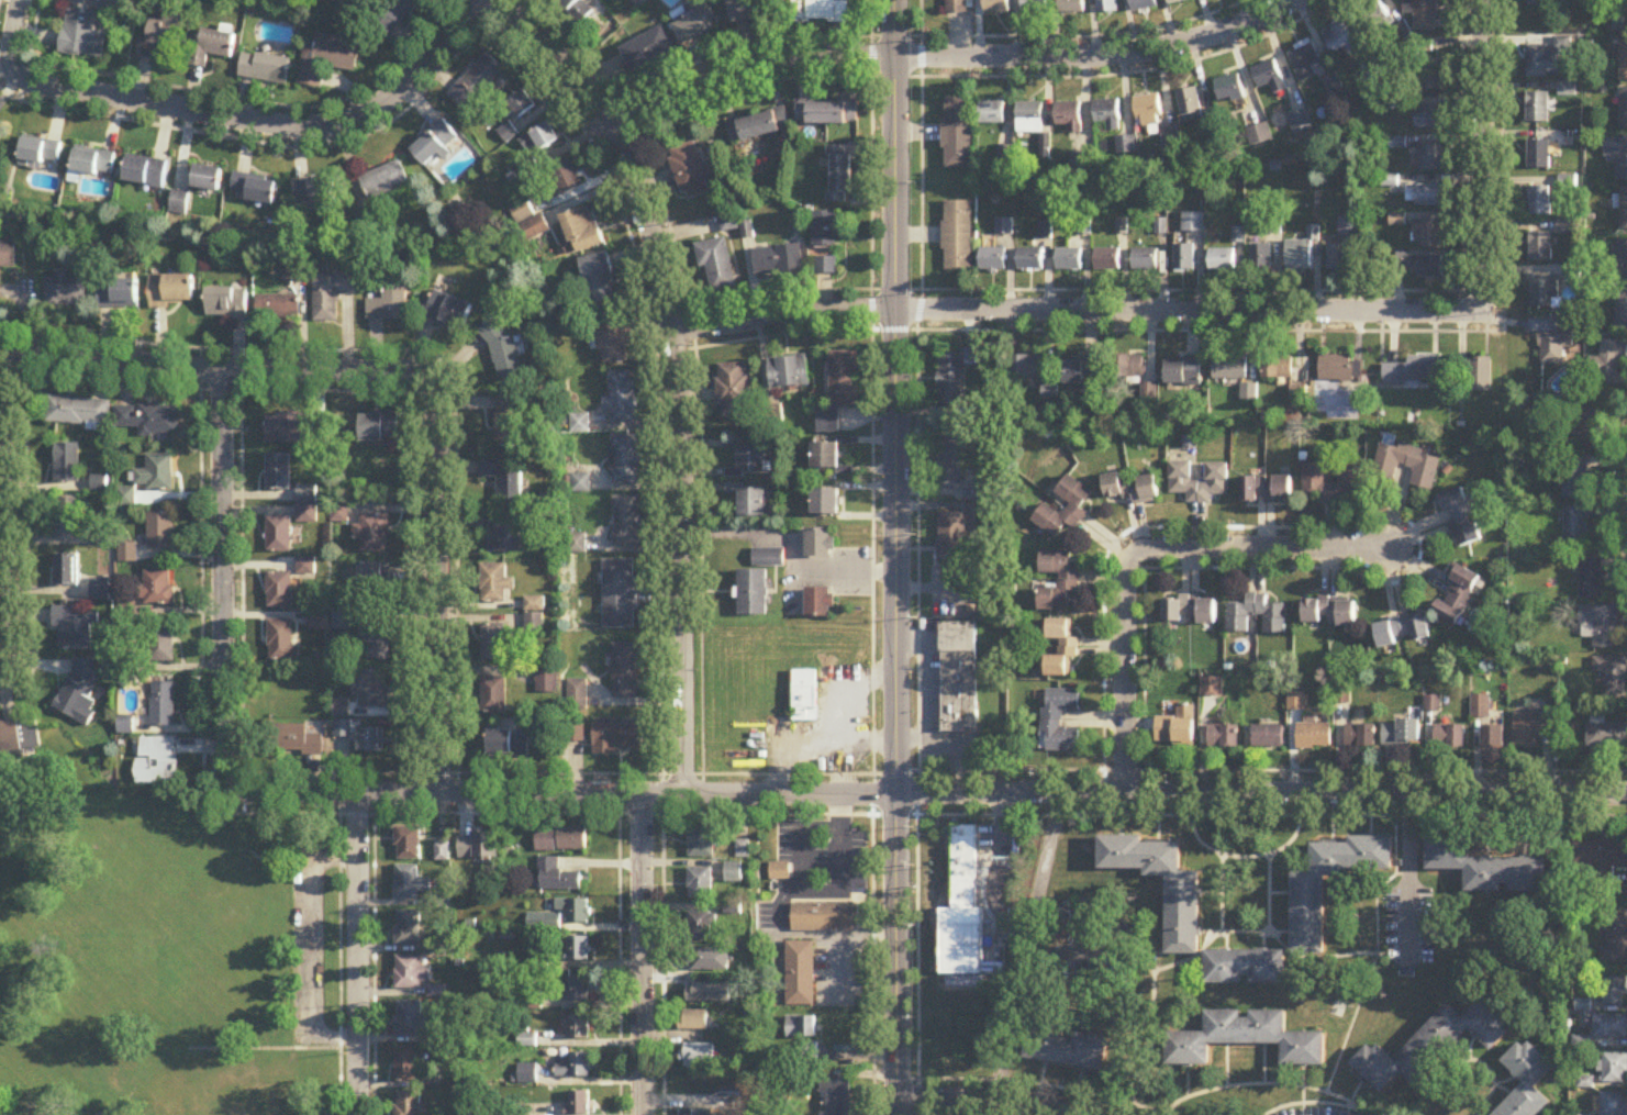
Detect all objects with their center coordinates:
building: (107, 1)
building: (1177, 1)
building: (1144, 4)
building: (1538, 4)
building: (955, 5)
building: (998, 7)
building: (1035, 7)
building: (1071, 7)
building: (1106, 7)
building: (577, 9)
building: (748, 10)
building: (818, 10)
building: (392, 15)
building: (1426, 15)
building: (1380, 22)
building: (697, 23)
road: (1079, 30)
road: (15, 34)
building: (82, 35)
building: (165, 35)
building: (1341, 42)
building: (212, 48)
building: (648, 51)
building: (1425, 51)
road: (946, 56)
building: (328, 60)
building: (1623, 60)
building: (1304, 62)
building: (1542, 63)
road: (1130, 66)
building: (265, 69)
building: (1269, 78)
building: (1430, 78)
building: (477, 82)
building: (1229, 90)
building: (1568, 90)
building: (522, 105)
building: (1190, 105)
building: (1538, 109)
building: (1624, 110)
building: (1148, 112)
building: (826, 114)
building: (991, 114)
building: (1107, 115)
building: (1069, 118)
building: (1029, 119)
building: (1429, 120)
road: (270, 122)
building: (1300, 124)
building: (758, 127)
building: (956, 134)
building: (1259, 136)
building: (545, 138)
building: (1171, 141)
building: (435, 145)
building: (41, 153)
road: (1482, 153)
building: (1539, 156)
building: (1617, 157)
building: (1428, 158)
building: (93, 164)
building: (145, 172)
building: (690, 172)
building: (839, 176)
building: (207, 179)
building: (385, 182)
building: (562, 182)
building: (254, 189)
building: (312, 192)
building: (1428, 197)
building: (1539, 203)
building: (1623, 210)
building: (522, 212)
building: (728, 223)
building: (1193, 223)
building: (1271, 227)
building: (535, 228)
building: (1347, 228)
building: (582, 232)
building: (825, 232)
building: (1430, 235)
building: (957, 236)
building: (1540, 248)
building: (10, 256)
building: (1300, 256)
building: (1259, 258)
building: (1183, 259)
building: (1338, 259)
building: (992, 260)
building: (1030, 260)
building: (1068, 260)
building: (1106, 260)
building: (1145, 260)
building: (777, 261)
building: (1222, 261)
building: (1622, 261)
building: (715, 266)
building: (825, 267)
building: (1419, 267)
building: (599, 280)
building: (67, 292)
building: (172, 293)
building: (1544, 294)
building: (119, 296)
building: (332, 296)
building: (227, 305)
building: (390, 305)
building: (279, 309)
road: (1073, 309)
building: (448, 311)
building: (1622, 312)
building: (612, 337)
building: (1551, 342)
building: (505, 352)
building: (1608, 363)
building: (1128, 367)
building: (1028, 368)
building: (1229, 368)
building: (1278, 368)
building: (1340, 369)
road: (677, 370)
building: (1080, 370)
building: (1413, 371)
road: (221, 372)
building: (1183, 372)
building: (789, 373)
building: (1479, 375)
building: (950, 381)
building: (734, 391)
building: (622, 399)
building: (79, 413)
building: (149, 421)
building: (509, 423)
building: (379, 427)
building: (285, 430)
building: (1584, 430)
building: (826, 458)
building: (625, 460)
building: (68, 464)
building: (749, 464)
building: (950, 464)
building: (1407, 466)
building: (279, 473)
building: (157, 475)
building: (1217, 475)
building: (1352, 476)
building: (1575, 479)
building: (504, 480)
building: (580, 484)
building: (1132, 489)
building: (1267, 491)
building: (307, 495)
building: (753, 504)
building: (826, 504)
building: (1076, 506)
road: (7, 511)
building: (308, 516)
building: (68, 519)
building: (1460, 520)
building: (626, 522)
building: (1575, 529)
building: (503, 532)
building: (161, 533)
building: (371, 534)
building: (279, 536)
building: (951, 539)
building: (820, 545)
road: (793, 548)
road: (1143, 553)
road: (871, 557)
road: (893, 557)
road: (916, 557)
building: (768, 558)
building: (307, 568)
building: (67, 571)
building: (1591, 580)
road: (224, 581)
building: (1069, 582)
building: (372, 583)
building: (495, 586)
road: (437, 587)
building: (158, 589)
building: (101, 591)
building: (279, 592)
building: (753, 594)
building: (620, 595)
building: (1458, 598)
building: (818, 605)
building: (1190, 611)
building: (1257, 612)
building: (1329, 613)
building: (344, 622)
building: (1600, 627)
building: (75, 631)
building: (1403, 632)
building: (376, 642)
building: (282, 643)
building: (494, 643)
building: (161, 645)
building: (1062, 650)
building: (626, 671)
building: (1613, 677)
building: (959, 678)
building: (548, 682)
building: (80, 690)
building: (371, 692)
building: (577, 695)
building: (494, 696)
building: (805, 698)
building: (164, 705)
building: (1479, 707)
building: (341, 711)
building: (844, 714)
building: (1060, 722)
building: (1177, 728)
building: (342, 729)
building: (1529, 729)
building: (1401, 734)
building: (576, 735)
building: (1313, 736)
building: (21, 737)
building: (1223, 737)
building: (1268, 737)
building: (1360, 737)
building: (1606, 737)
building: (616, 738)
building: (1449, 738)
building: (1493, 739)
building: (293, 742)
building: (370, 743)
building: (509, 745)
building: (157, 761)
road: (1000, 769)
road: (1259, 791)
road: (562, 793)
road: (982, 815)
road: (929, 828)
road: (987, 834)
building: (561, 840)
building: (701, 841)
building: (408, 844)
building: (1600, 852)
road: (1242, 856)
road: (994, 860)
building: (1485, 867)
parking lot: (813, 869)
building: (776, 870)
building: (735, 872)
road: (1401, 873)
building: (558, 877)
road: (1407, 881)
building: (700, 883)
building: (410, 884)
road: (977, 893)
building: (961, 911)
building: (576, 912)
building: (820, 915)
building: (1088, 915)
building: (1182, 915)
building: (1307, 916)
building: (701, 926)
building: (409, 929)
road: (1244, 930)
building: (1614, 936)
road: (375, 944)
road: (620, 944)
road: (662, 944)
road: (1026, 946)
road: (1084, 949)
building: (579, 950)
road: (1374, 952)
road: (642, 954)
road: (358, 955)
road: (1331, 955)
building: (707, 960)
road: (339, 965)
building: (1245, 968)
building: (413, 973)
building: (799, 974)
building: (576, 990)
building: (1615, 991)
building: (707, 995)
road: (1151, 1004)
building: (411, 1021)
building: (695, 1021)
building: (800, 1027)
building: (1611, 1027)
building: (578, 1028)
building: (1245, 1040)
building: (1431, 1046)
building: (1065, 1049)
building: (699, 1057)
road: (1464, 1059)
building: (406, 1066)
building: (575, 1068)
building: (1614, 1068)
building: (1527, 1081)
road: (1267, 1082)
road: (1030, 1084)
building: (835, 1095)
road: (1035, 1100)
road: (1302, 1100)
road: (995, 1101)
road: (1316, 1102)
building: (409, 1103)
building: (579, 1103)
road: (1073, 1103)
building: (1614, 1104)
road: (1347, 1107)
building: (697, 1113)

